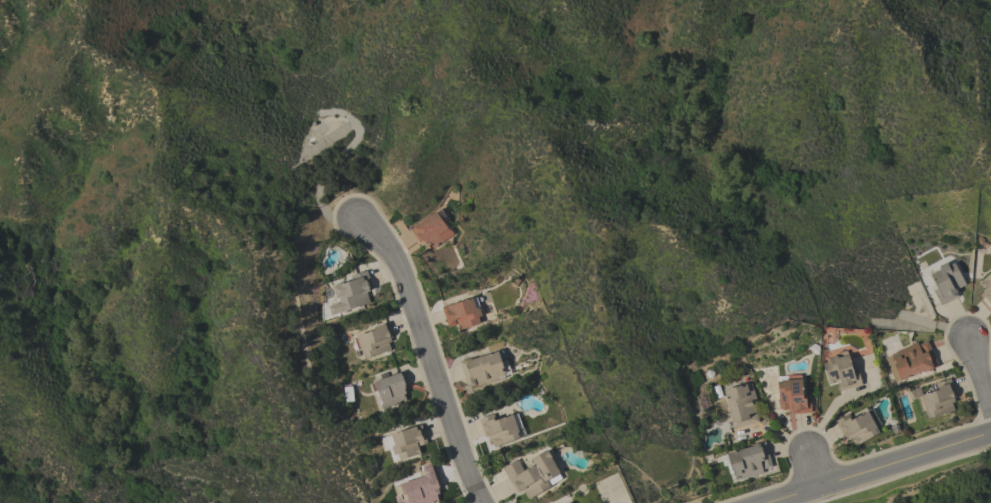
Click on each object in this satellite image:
building: (431, 230)
building: (945, 281)
building: (986, 287)
building: (355, 290)
building: (462, 313)
building: (375, 340)
road: (426, 356)
building: (910, 361)
building: (482, 369)
building: (841, 371)
road: (978, 375)
building: (392, 388)
building: (793, 395)
building: (939, 399)
building: (741, 405)
building: (856, 427)
building: (499, 429)
building: (407, 441)
building: (749, 460)
road: (878, 467)
road: (811, 469)
building: (531, 474)
building: (422, 488)

